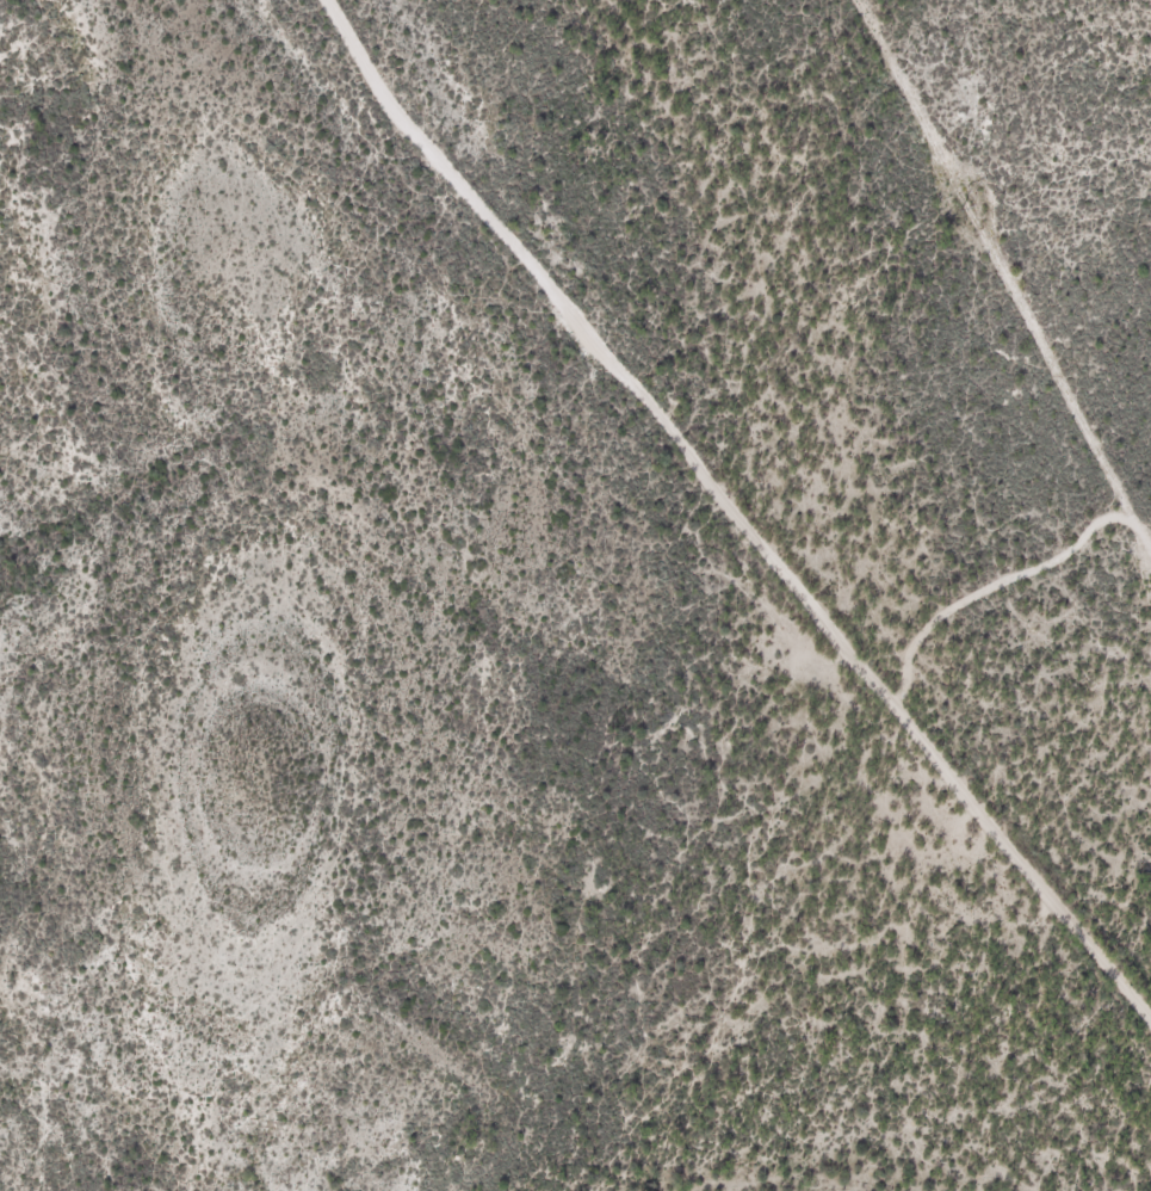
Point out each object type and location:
power tower: (963, 208)
road: (737, 511)

